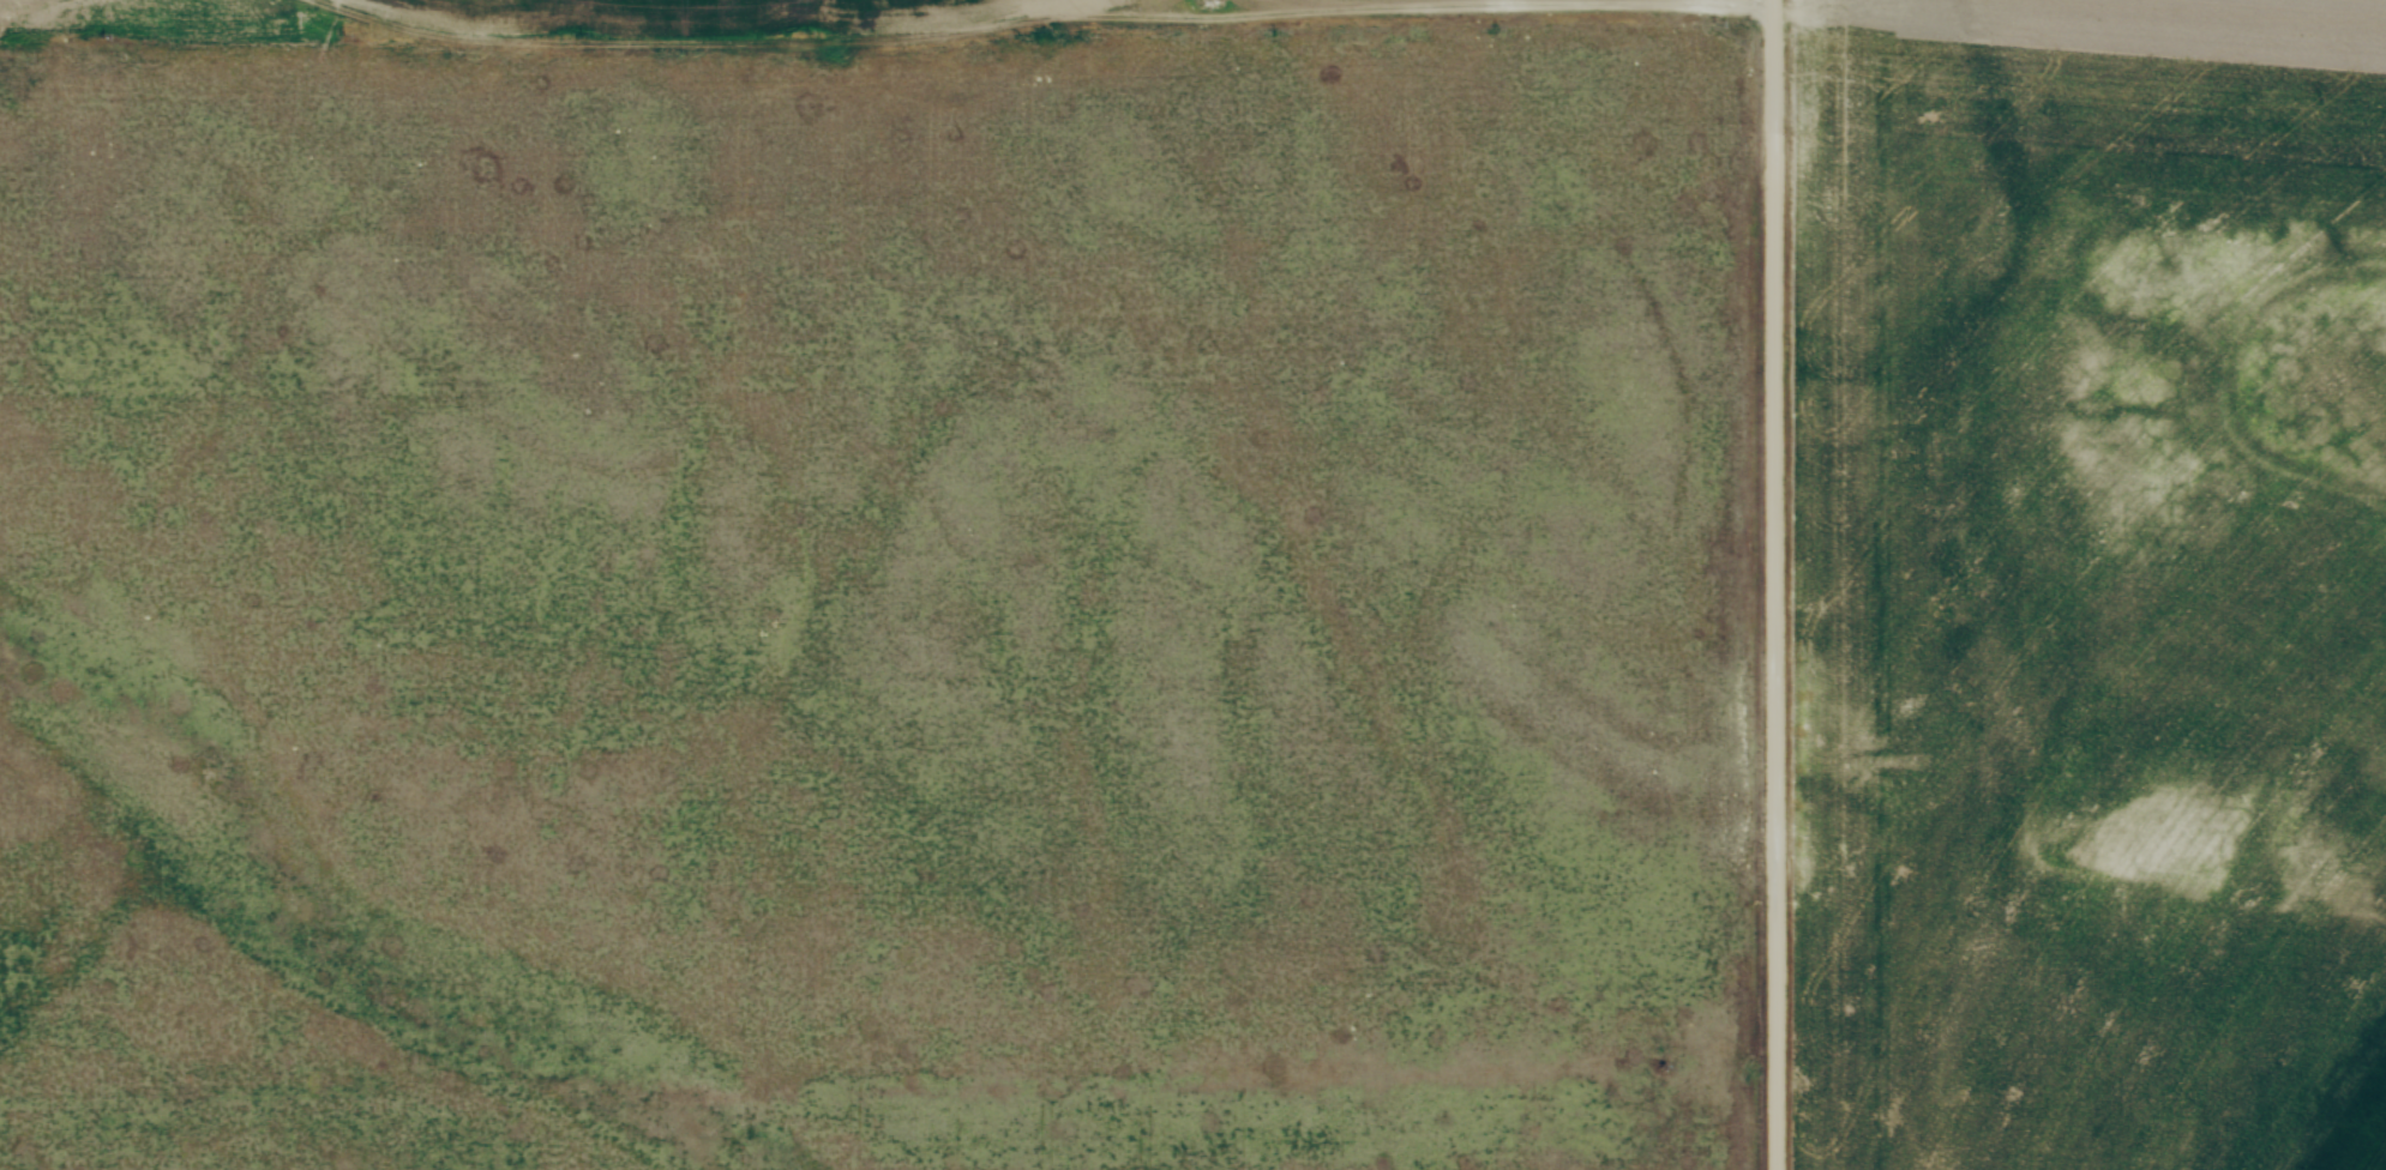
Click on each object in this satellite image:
crop: (665, 5)
road: (1774, 585)

